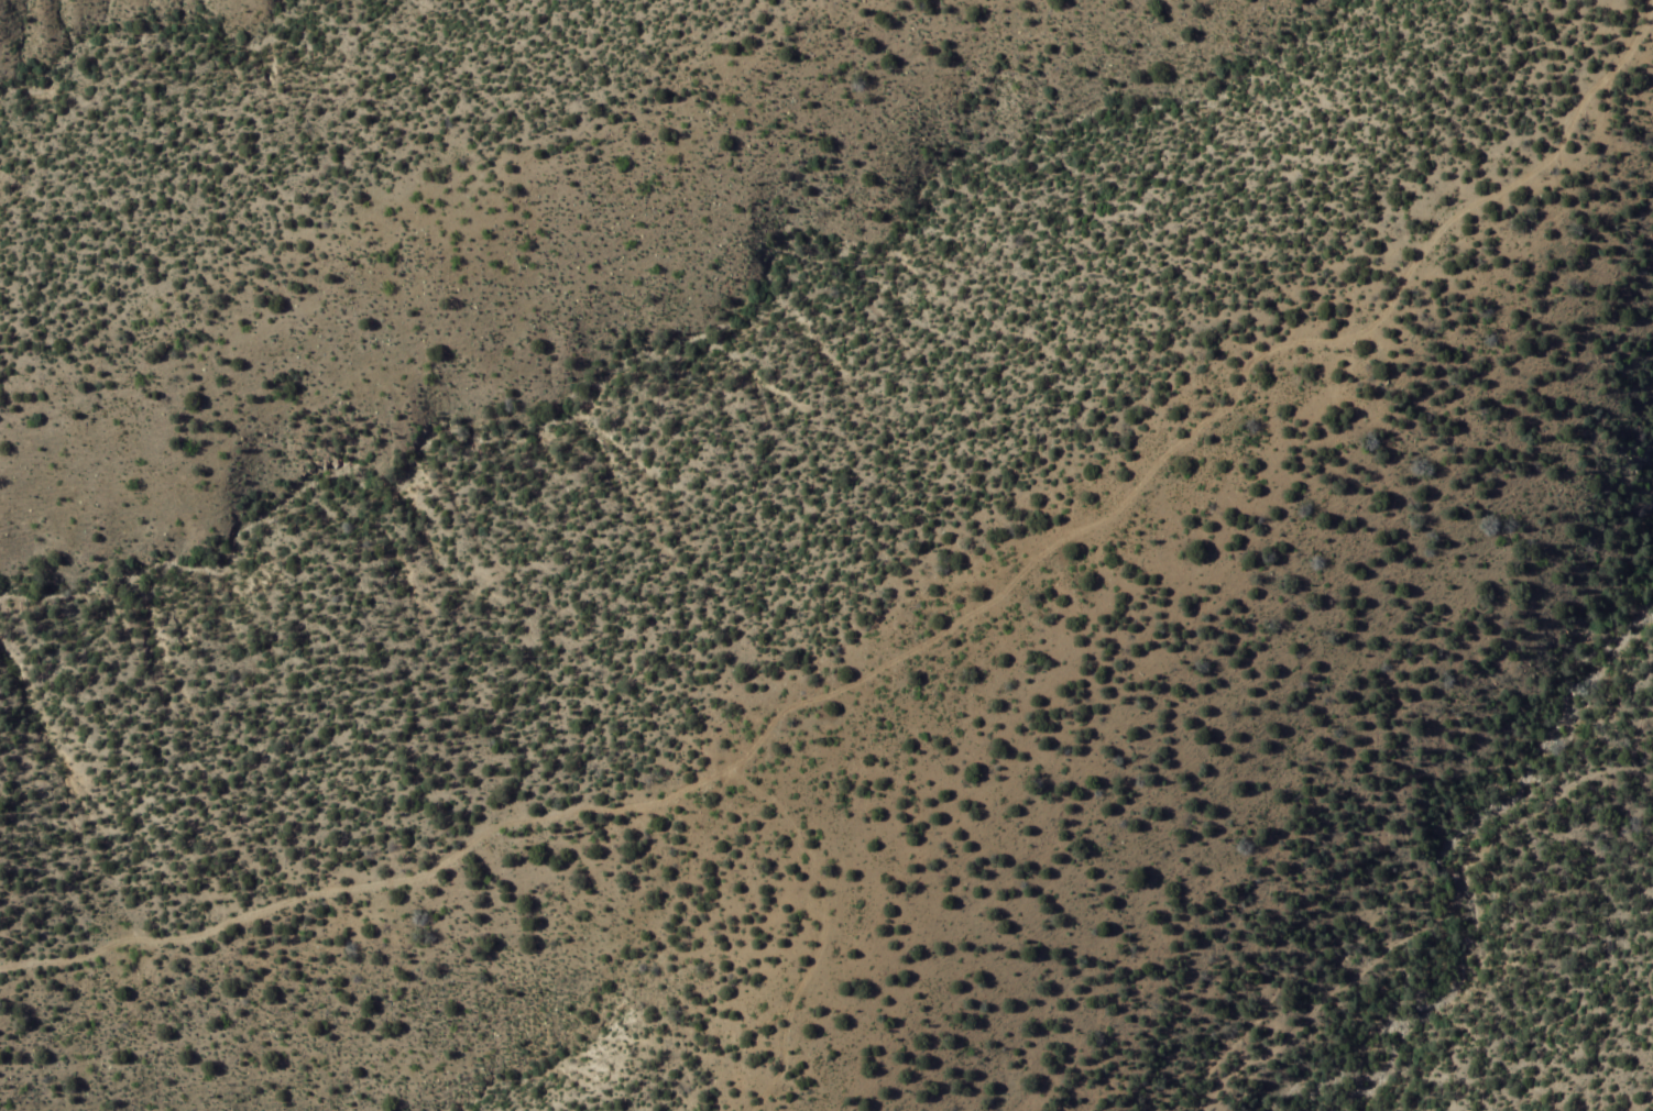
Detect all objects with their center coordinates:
road: (905, 760)

